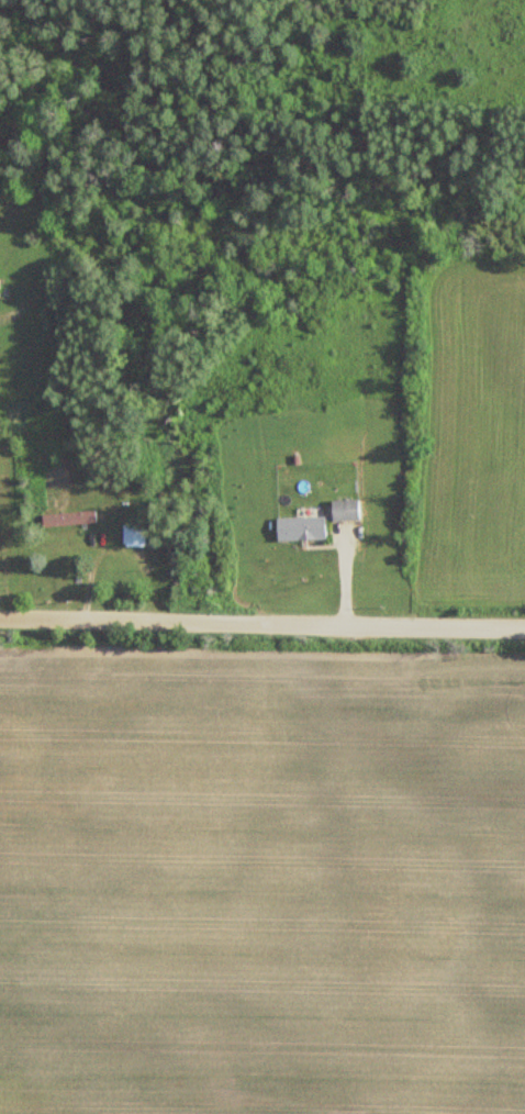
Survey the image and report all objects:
building: (343, 510)
building: (67, 516)
building: (298, 527)
building: (131, 533)
road: (262, 627)

